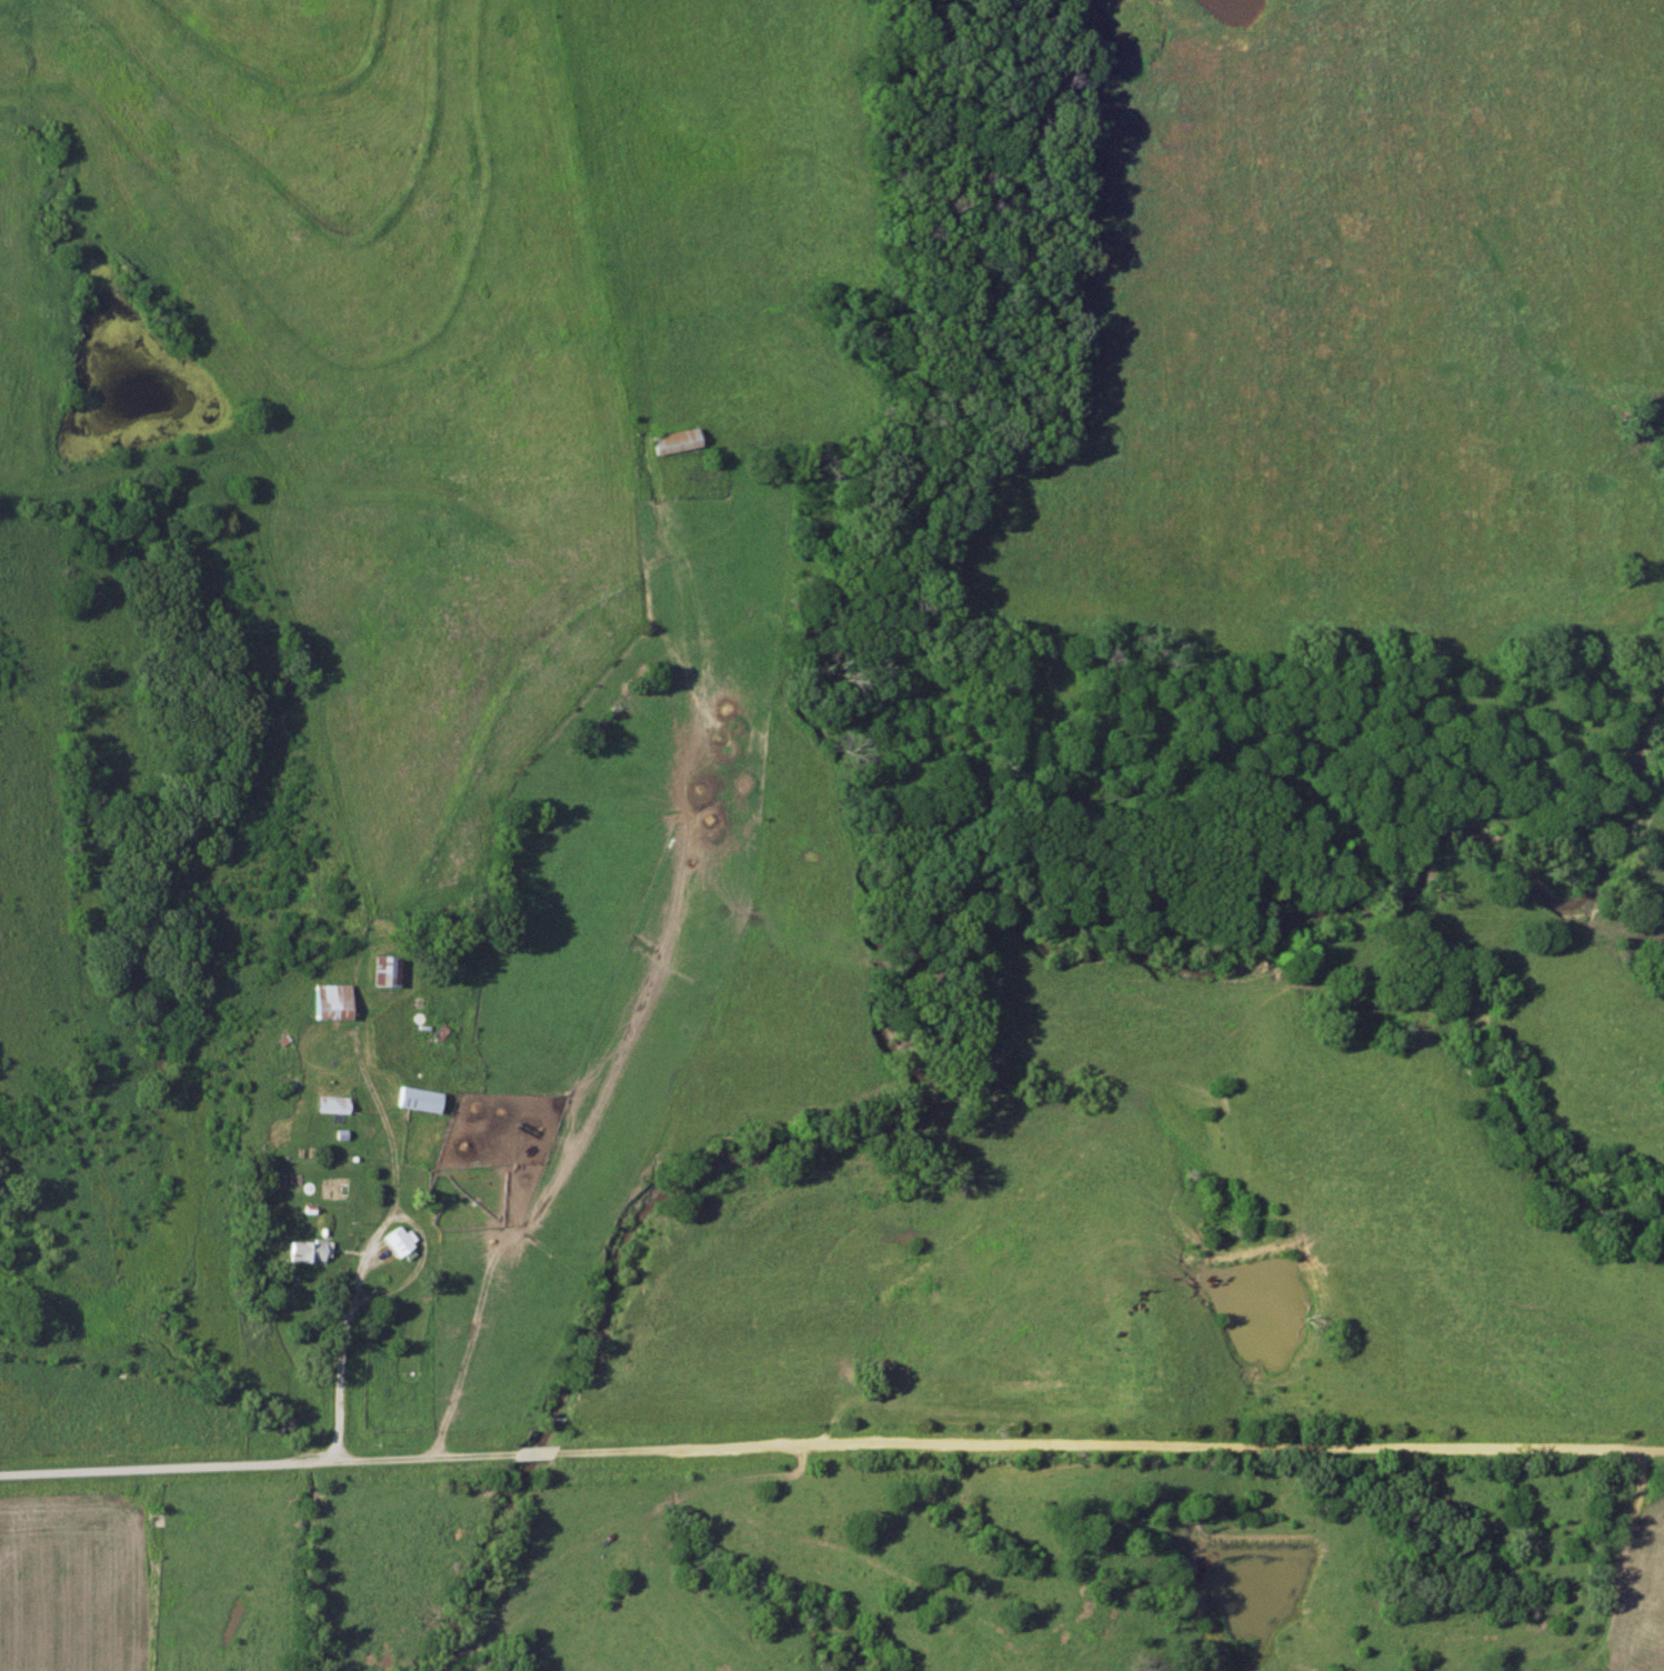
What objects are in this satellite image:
building: (674, 441)
building: (329, 1001)
building: (417, 1100)
building: (399, 1242)
road: (345, 1329)
road: (832, 1438)
road: (1628, 1517)

